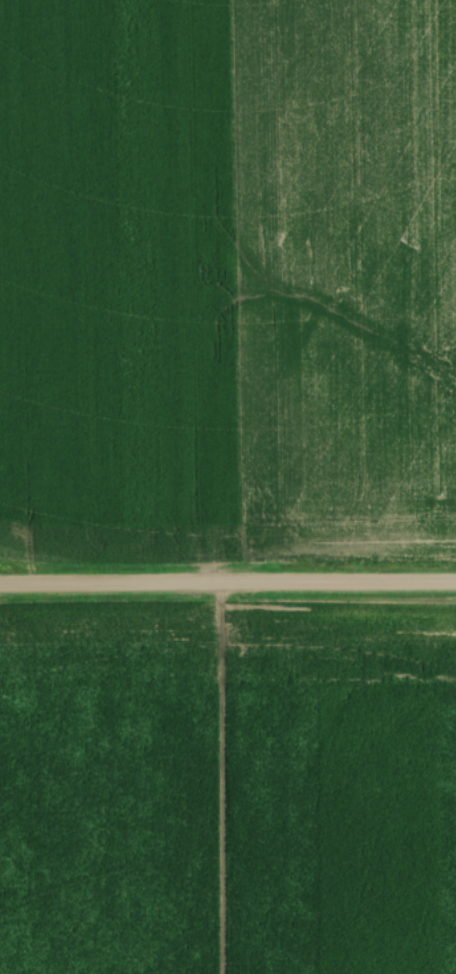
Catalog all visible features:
road: (228, 588)

